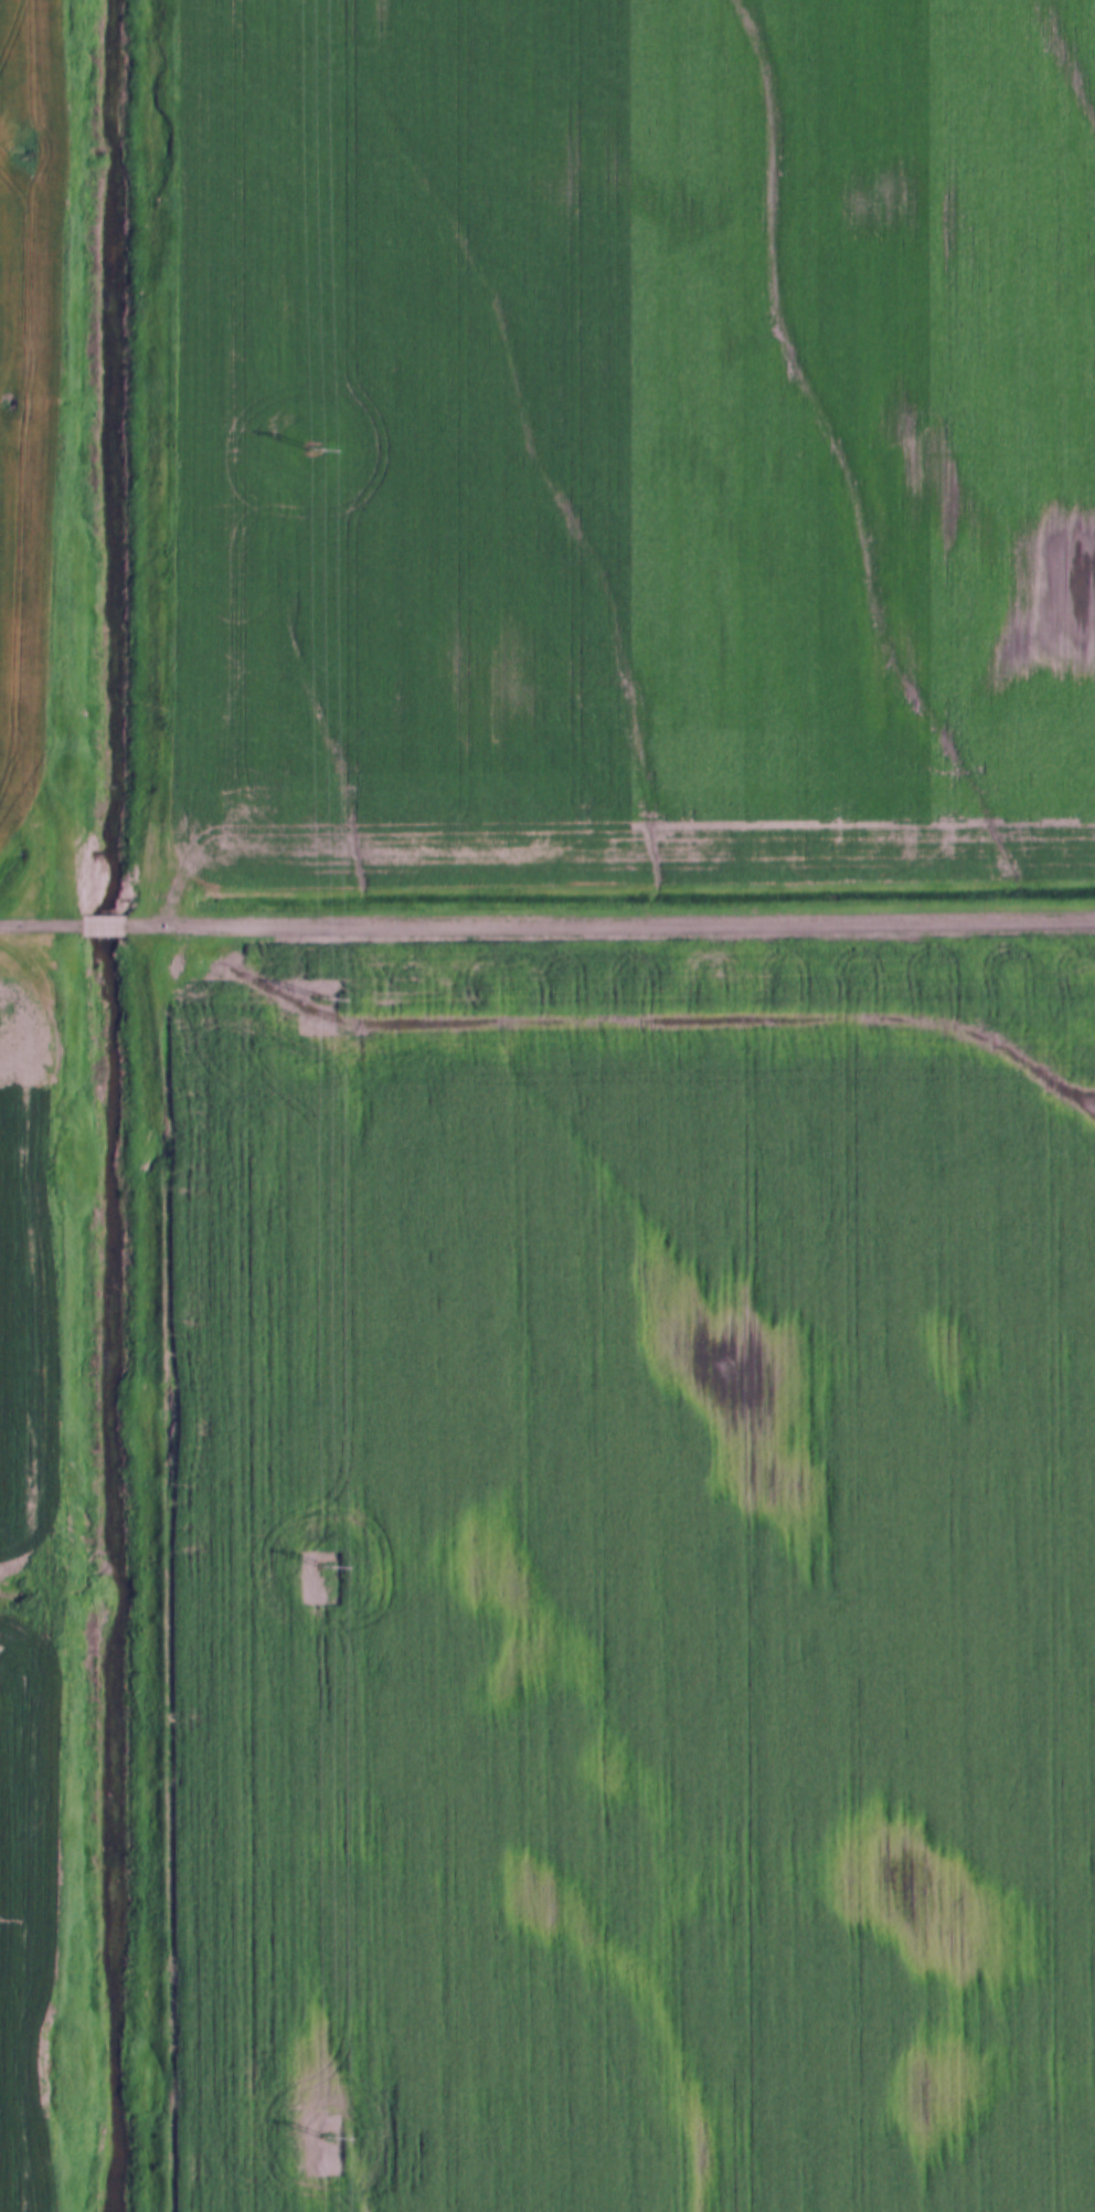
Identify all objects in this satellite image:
power tower: (316, 452)
road: (608, 927)
road: (42, 930)
road: (104, 930)
power tower: (325, 999)
power tower: (327, 1567)
power tower: (330, 2138)

